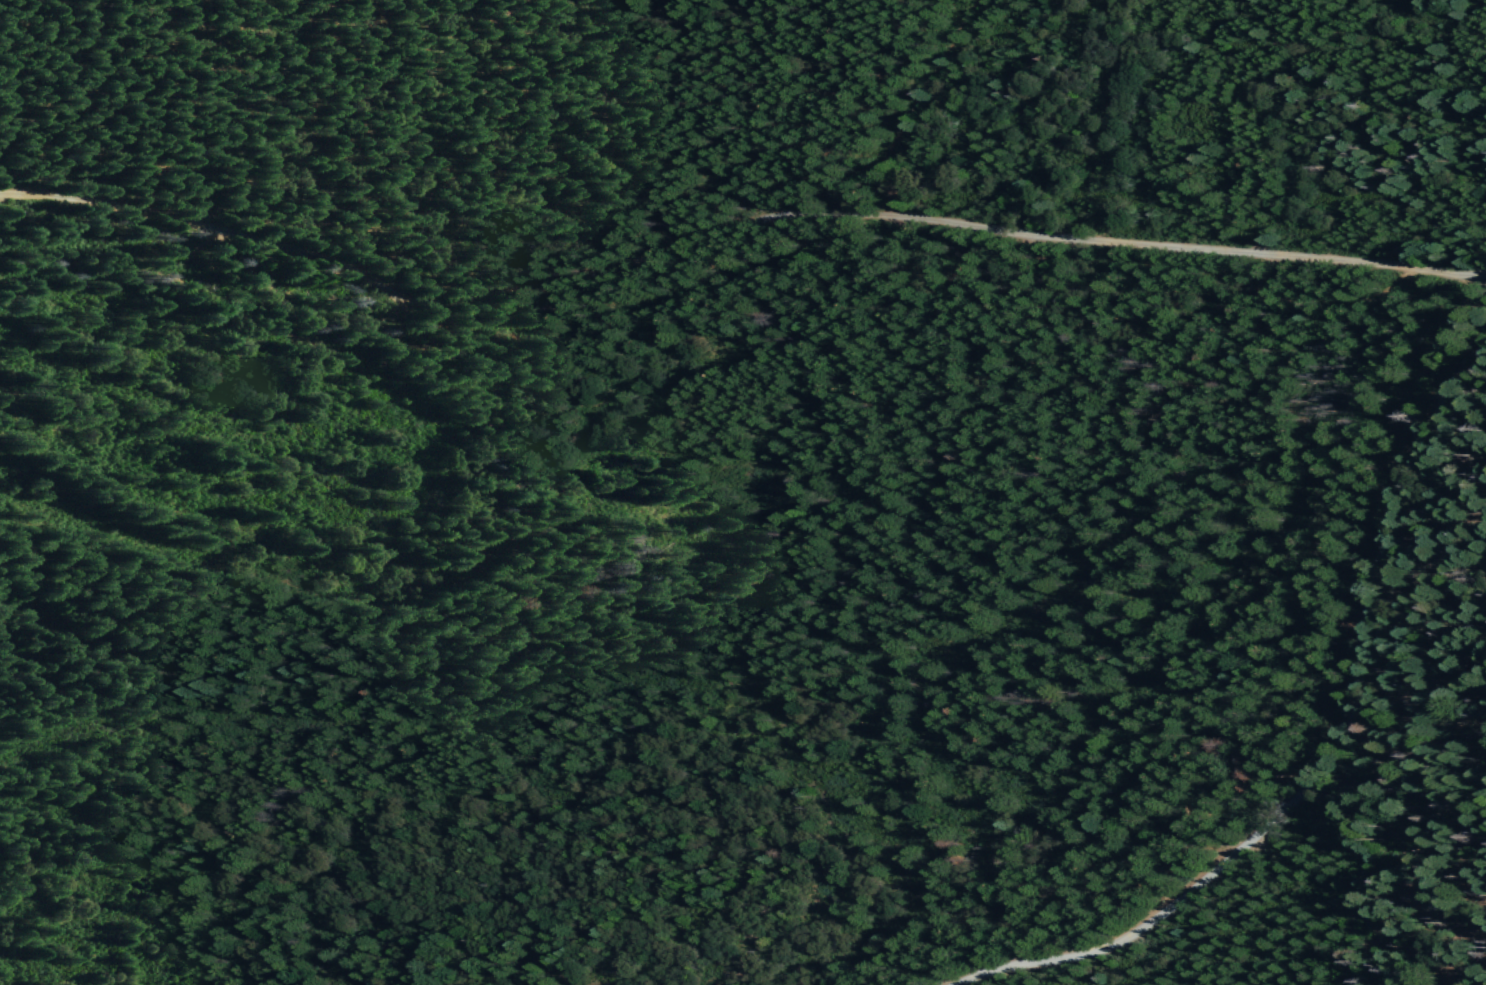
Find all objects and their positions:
road: (915, 103)
road: (732, 225)
road: (502, 339)
road: (1326, 760)

